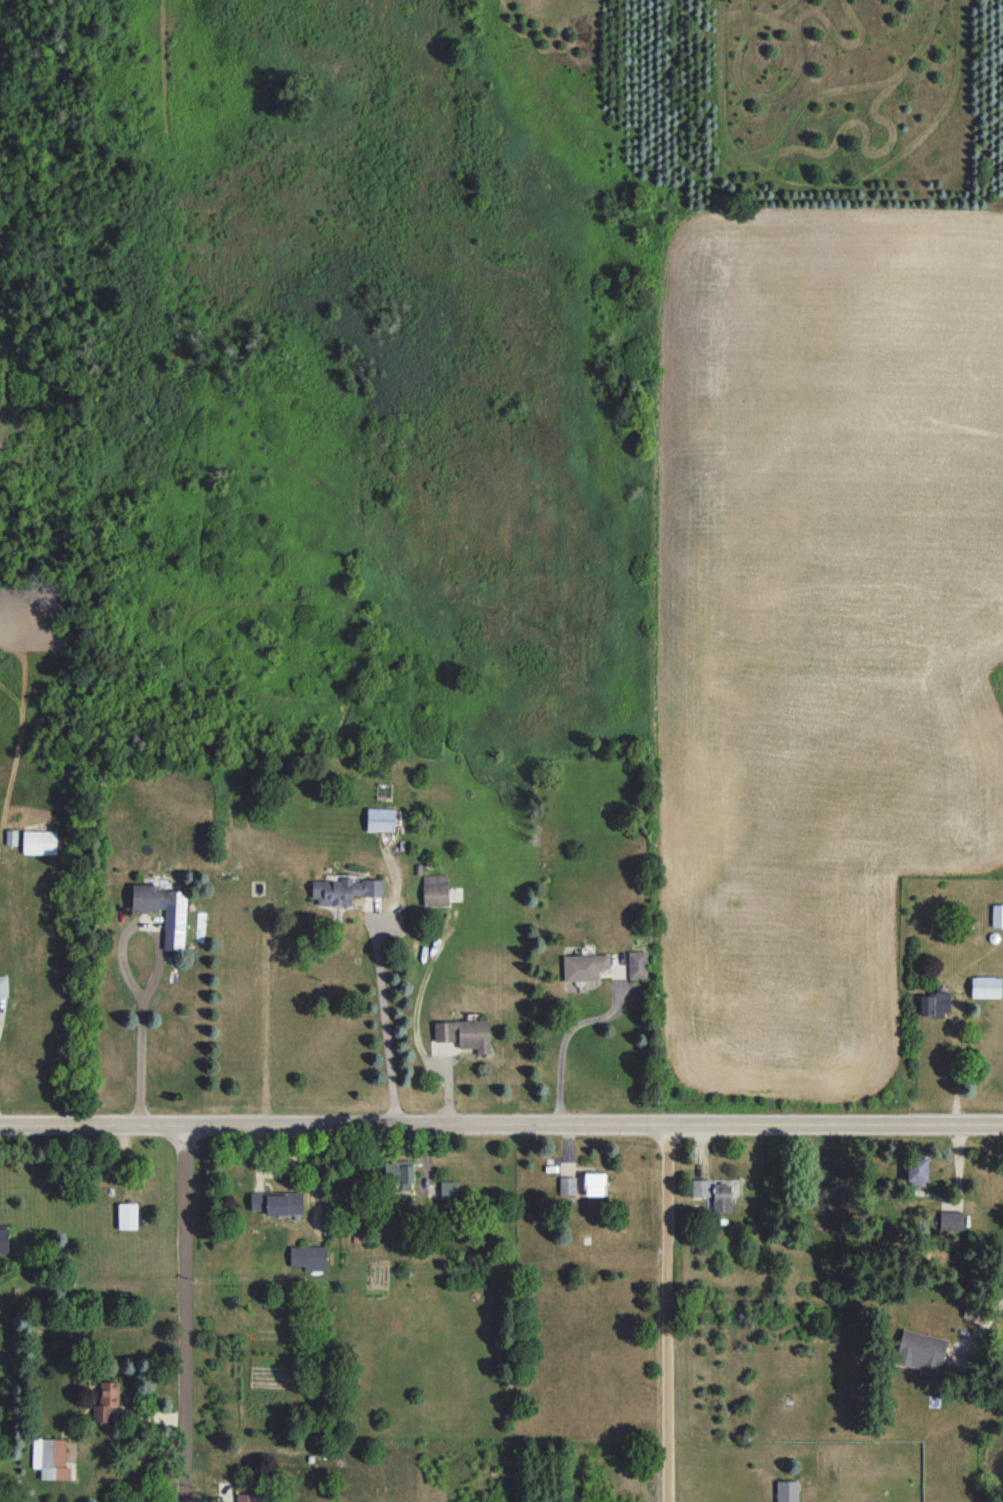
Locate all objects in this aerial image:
building: (380, 819)
building: (39, 842)
building: (344, 890)
building: (435, 890)
building: (161, 904)
building: (997, 915)
building: (637, 964)
building: (584, 967)
road: (153, 974)
building: (985, 987)
building: (3, 991)
building: (935, 1003)
road: (383, 1021)
building: (464, 1034)
road: (564, 1041)
road: (444, 1083)
road: (501, 1124)
building: (917, 1171)
building: (398, 1174)
building: (594, 1184)
building: (567, 1185)
building: (700, 1187)
building: (448, 1190)
building: (721, 1197)
building: (277, 1202)
building: (127, 1216)
building: (951, 1220)
building: (3, 1239)
building: (308, 1257)
road: (999, 1306)
road: (667, 1313)
road: (185, 1314)
building: (920, 1351)
building: (106, 1401)
building: (50, 1458)
building: (787, 1491)
building: (246, 1497)

